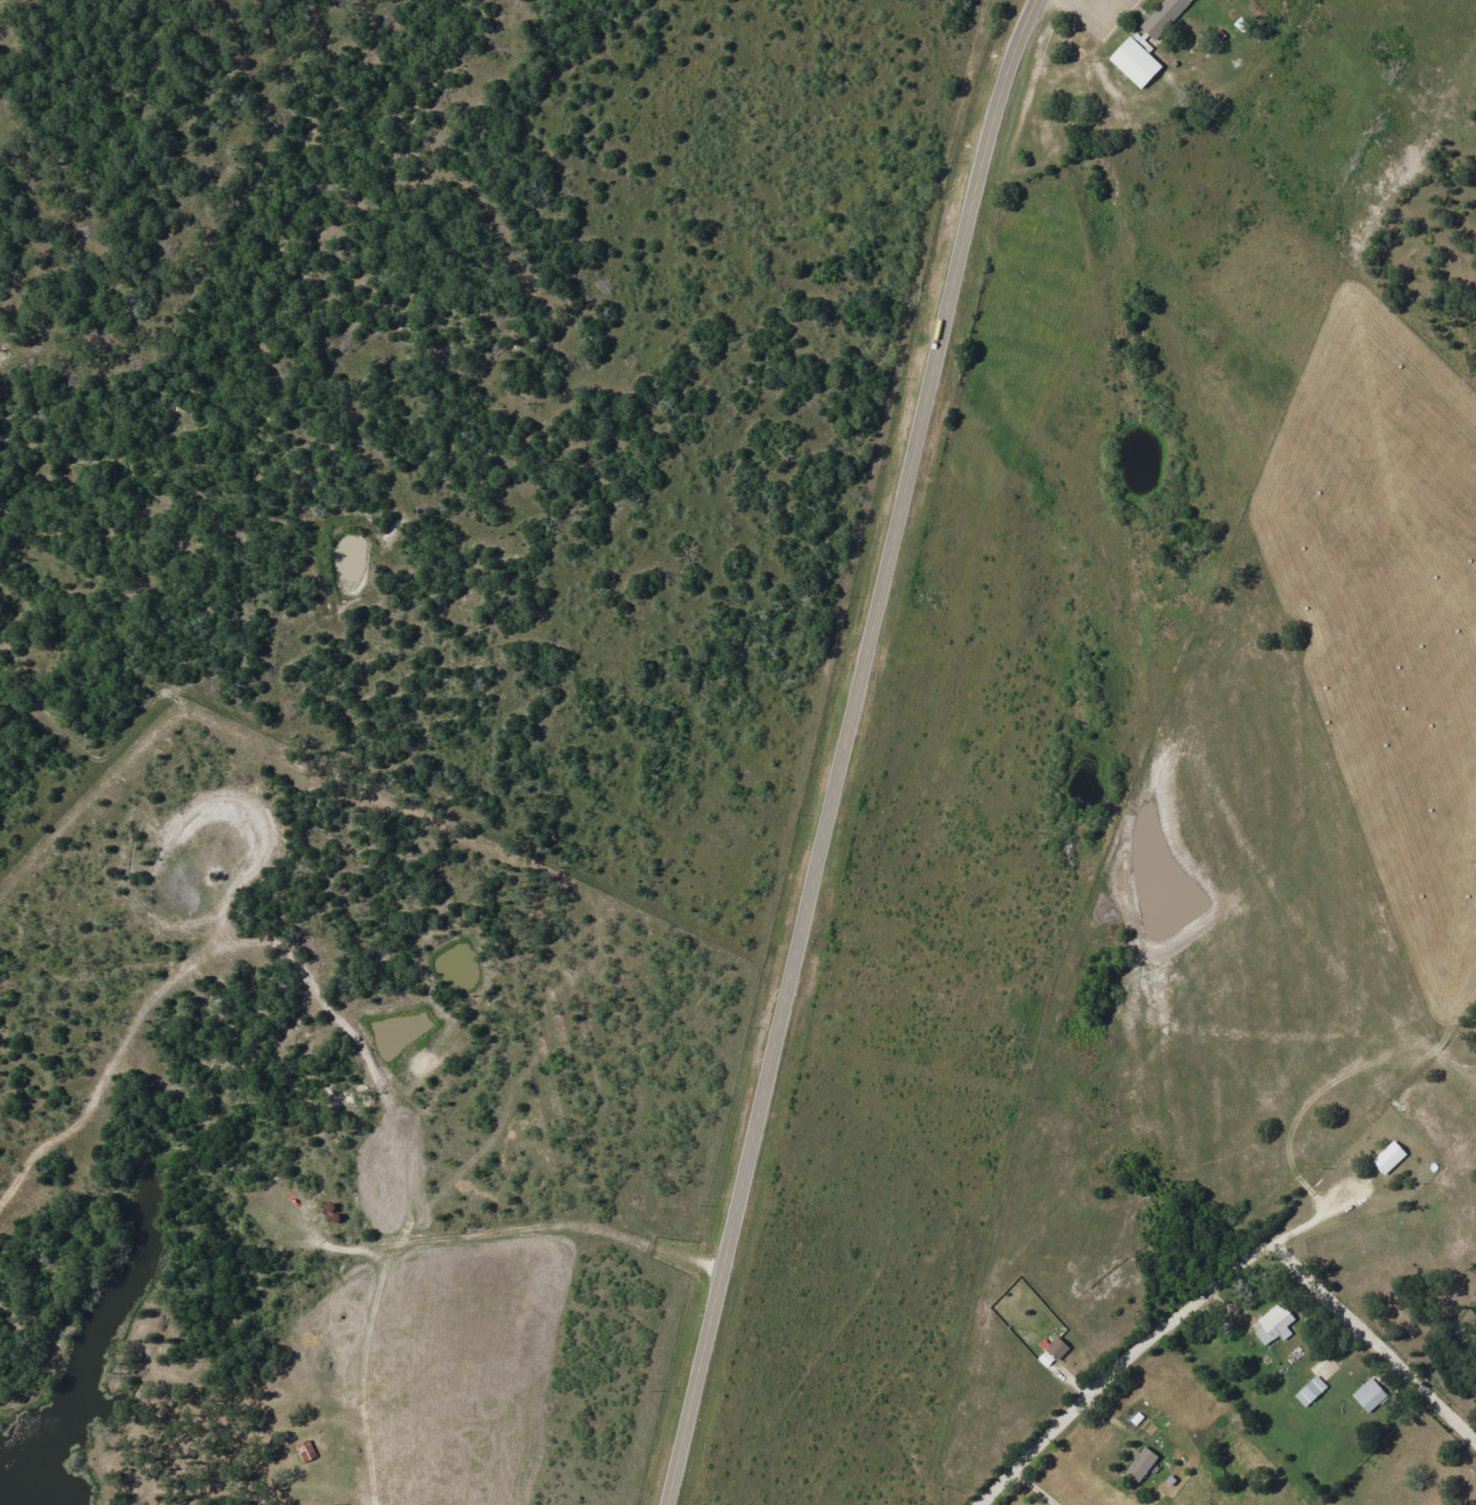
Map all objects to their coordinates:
road: (2, 1)
building: (1164, 17)
building: (1136, 62)
road: (845, 750)
building: (1389, 1158)
road: (1313, 1221)
road: (1217, 1273)
building: (1275, 1325)
building: (1057, 1349)
building: (1369, 1396)
building: (1141, 1465)

